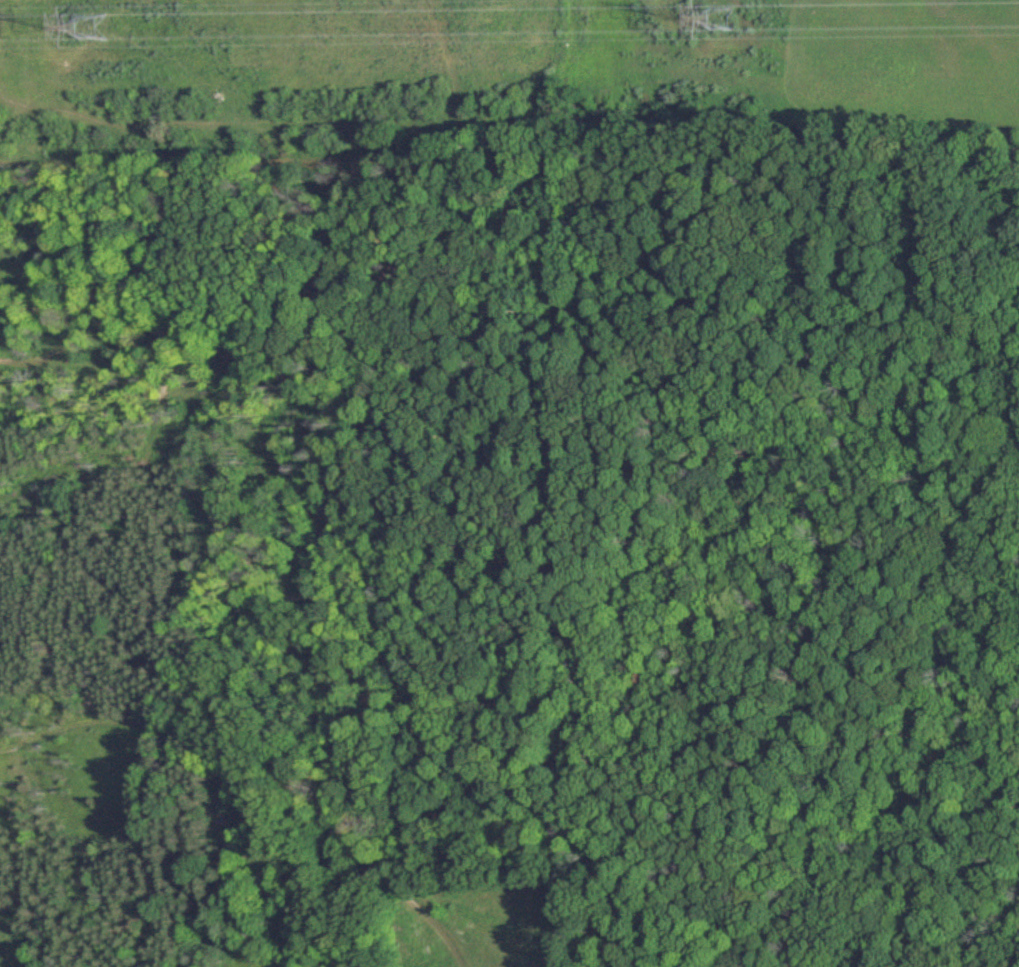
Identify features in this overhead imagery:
power tower: (722, 16)
power tower: (92, 23)

